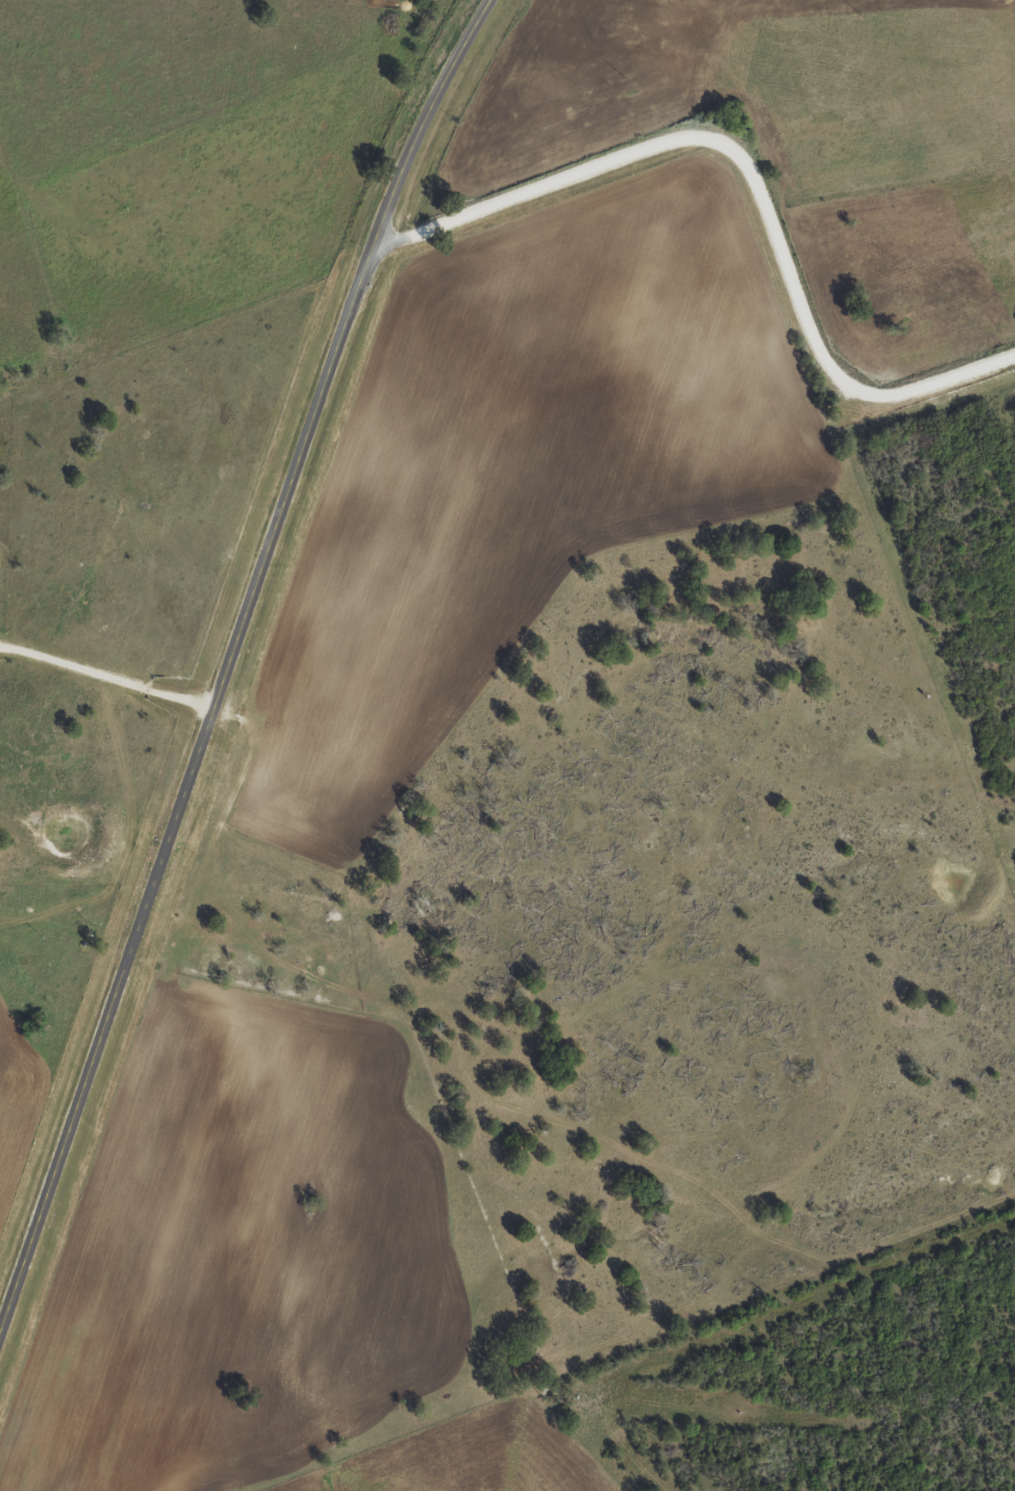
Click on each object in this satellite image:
road: (747, 179)
road: (230, 662)

